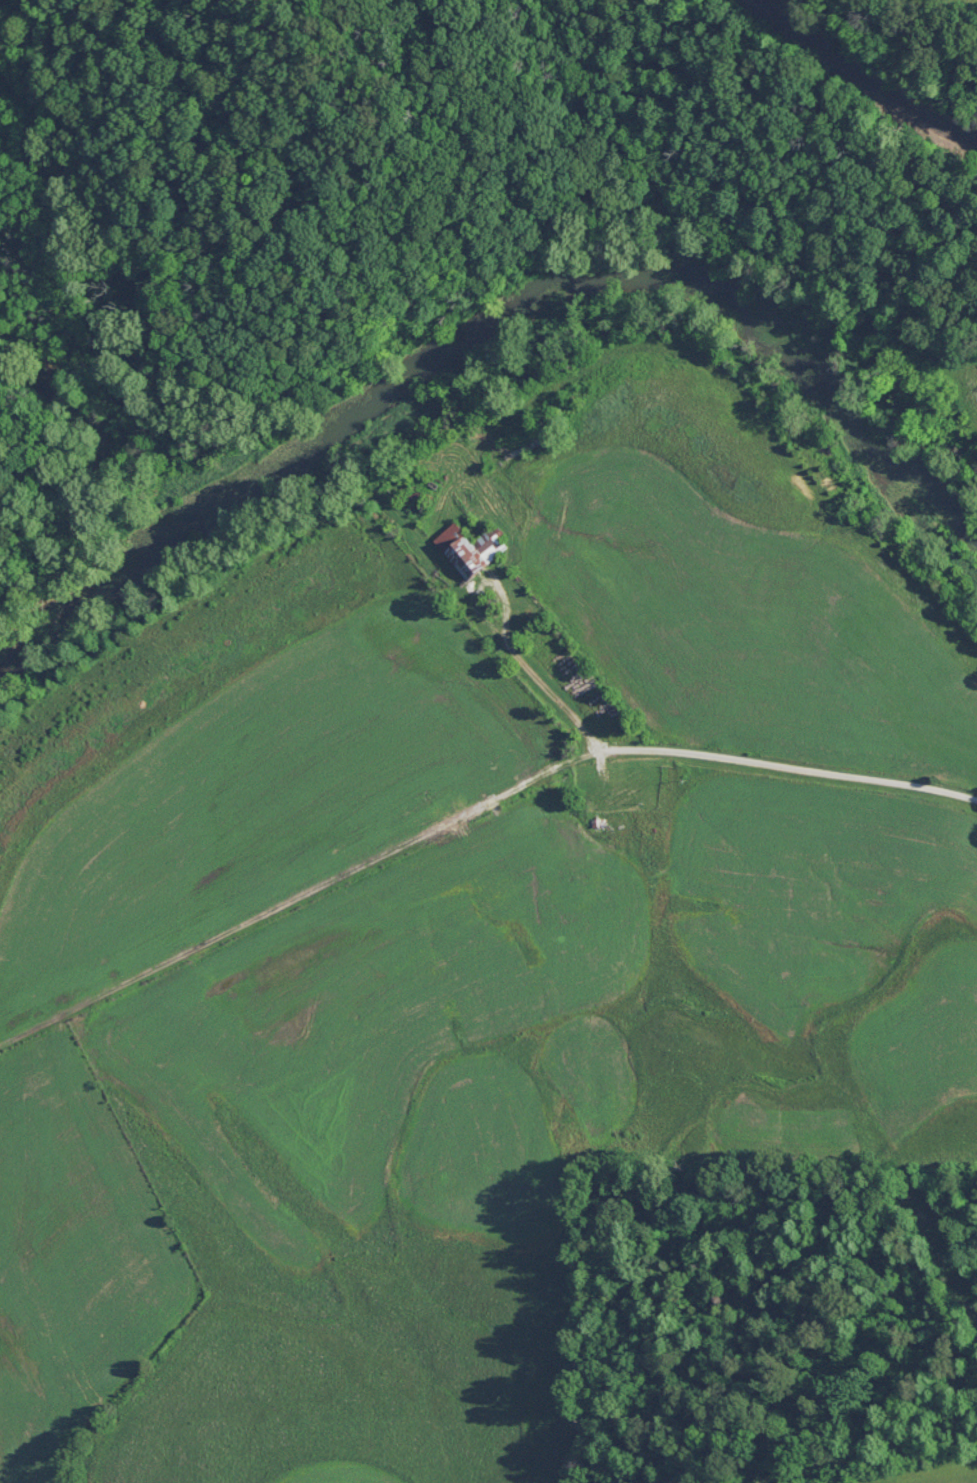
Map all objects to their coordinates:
railway: (869, 72)
river: (498, 294)
building: (472, 547)
road: (716, 756)
road: (296, 895)

